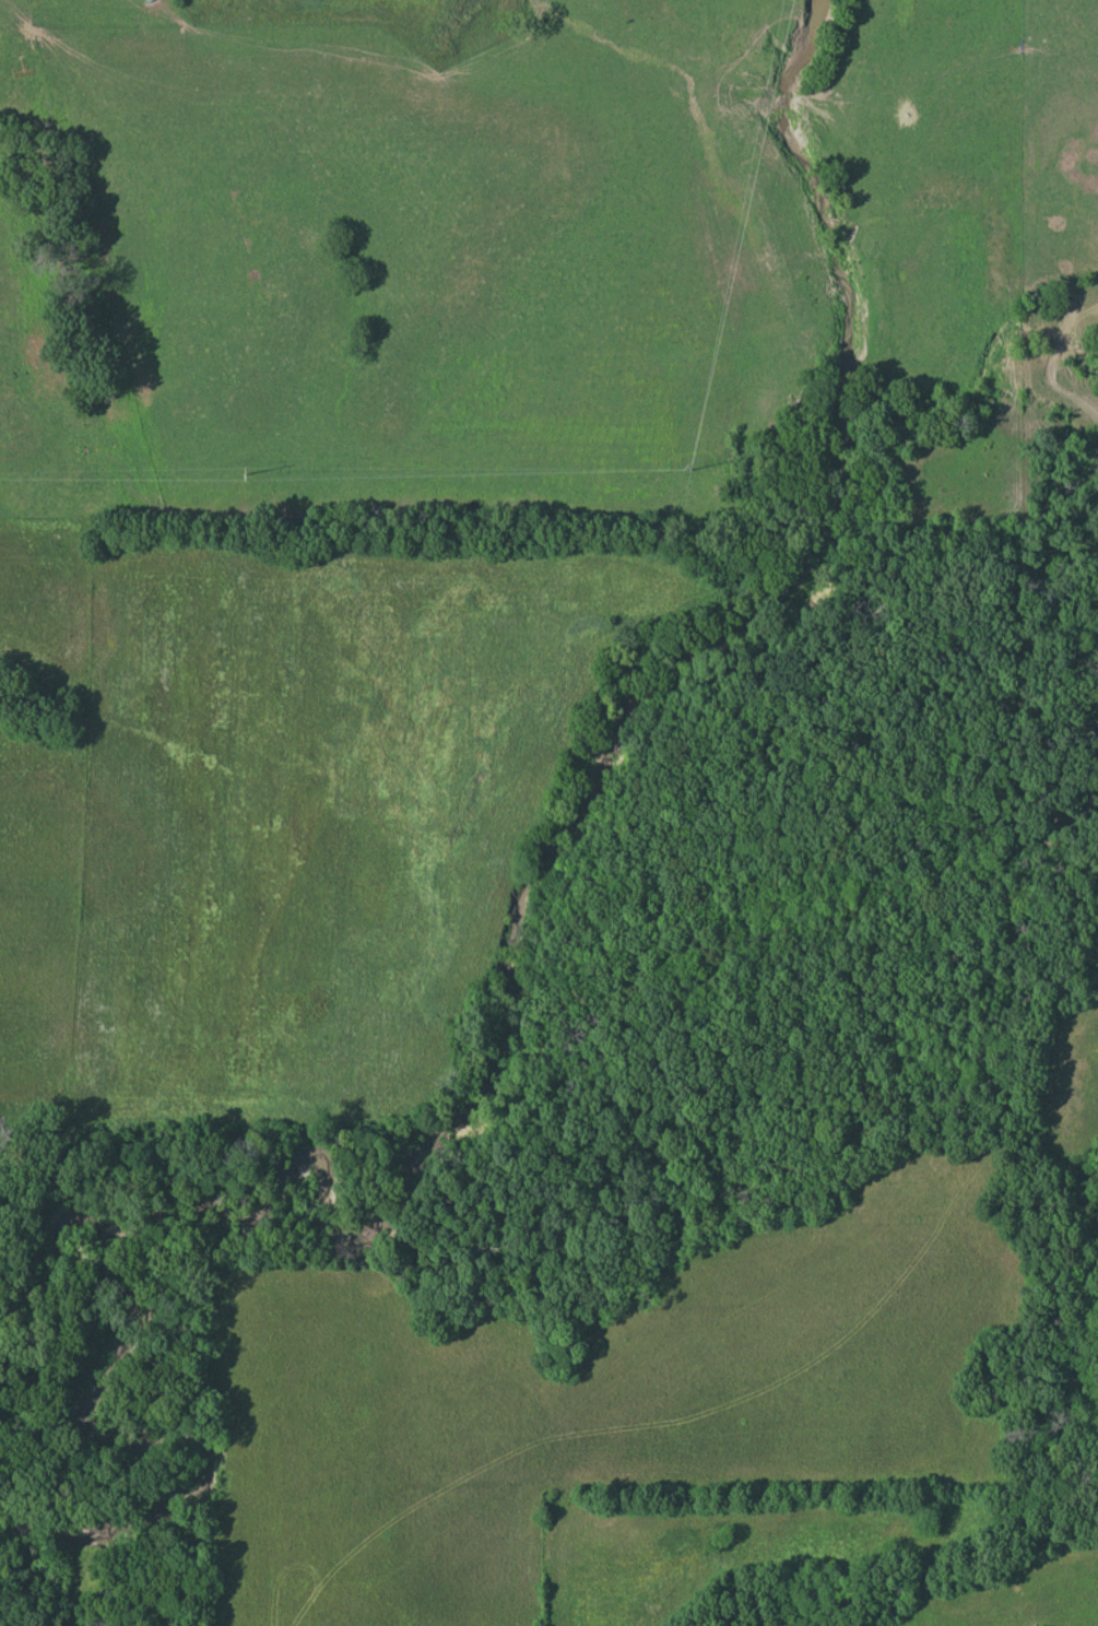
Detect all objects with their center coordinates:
river: (487, 1054)

